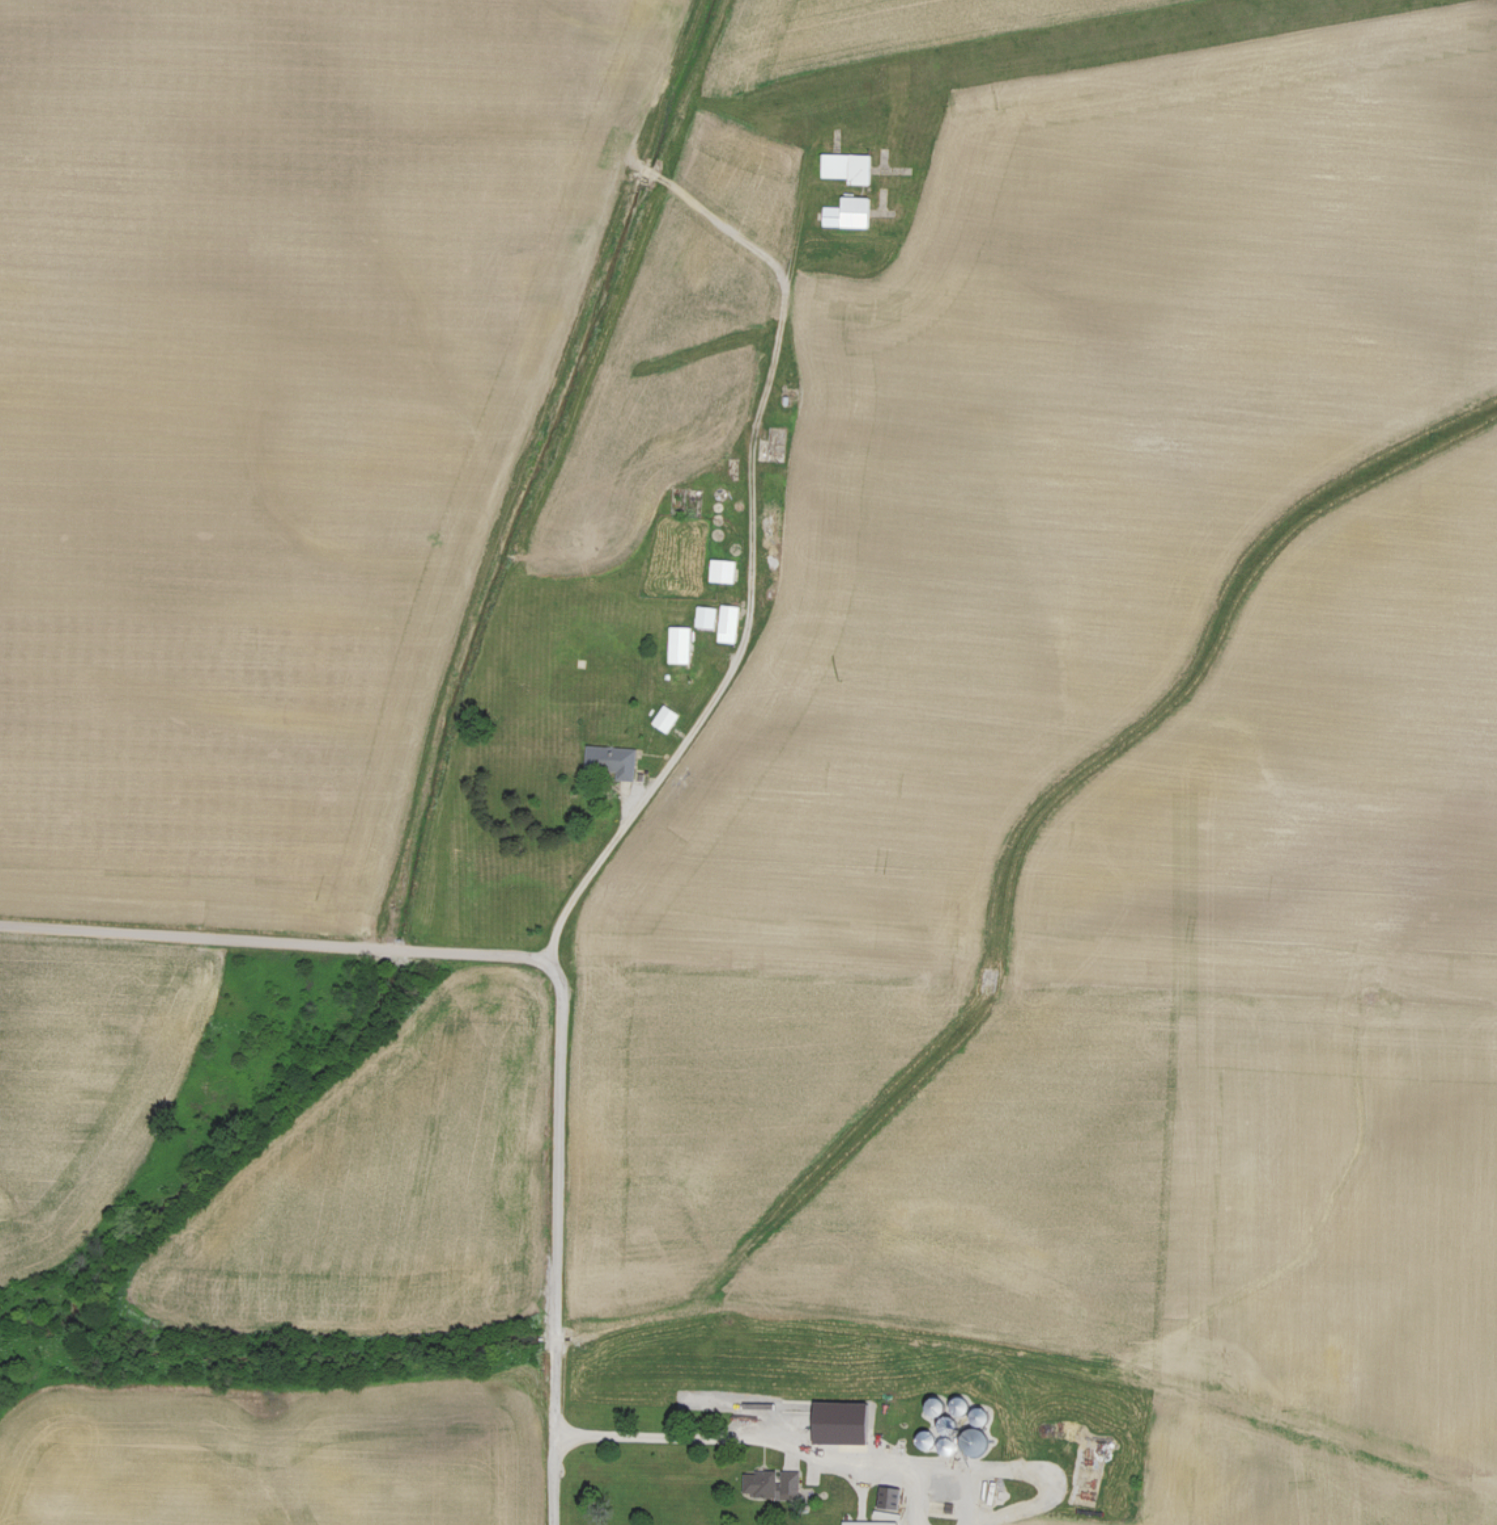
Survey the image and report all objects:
airport runway: (1085, 47)
building: (845, 167)
building: (847, 213)
building: (721, 570)
building: (704, 615)
building: (727, 623)
building: (678, 644)
building: (664, 718)
road: (683, 744)
road: (271, 939)
road: (556, 1241)
building: (836, 1423)
road: (739, 1436)
road: (1031, 1471)
building: (770, 1483)
road: (917, 1501)
building: (867, 1523)

